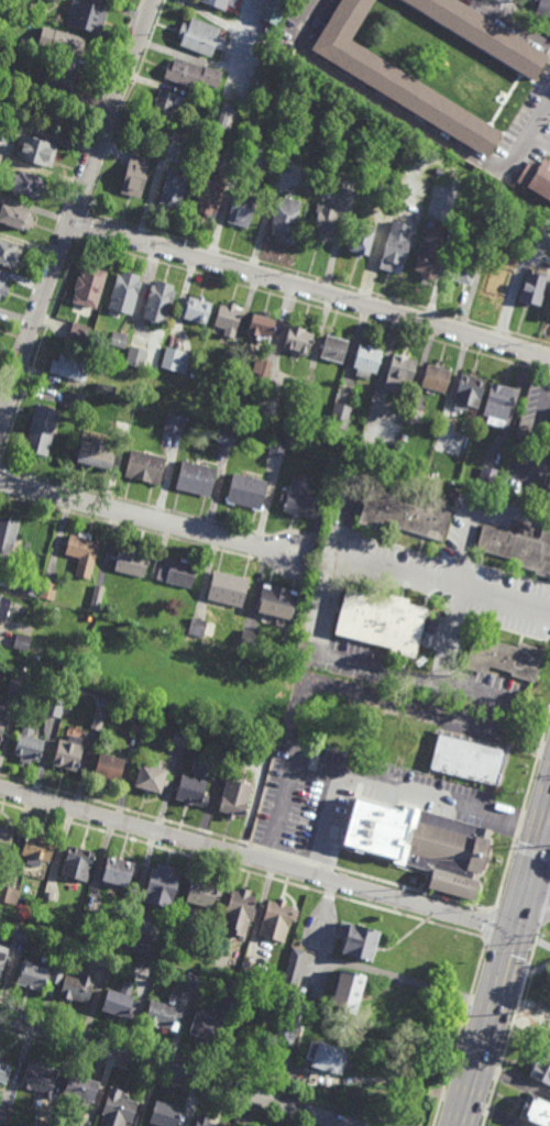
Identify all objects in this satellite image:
building: (54, 0)
building: (218, 3)
building: (30, 7)
building: (541, 8)
building: (43, 12)
building: (271, 12)
road: (501, 12)
building: (85, 18)
road: (504, 27)
building: (483, 35)
building: (198, 37)
building: (26, 43)
building: (66, 43)
road: (117, 67)
building: (193, 74)
building: (59, 76)
building: (395, 79)
building: (167, 100)
building: (204, 100)
park: (46, 106)
road: (546, 111)
building: (224, 112)
road: (404, 113)
road: (46, 120)
road: (546, 121)
building: (36, 148)
building: (533, 161)
building: (245, 162)
building: (136, 172)
building: (278, 172)
building: (439, 172)
building: (536, 178)
building: (25, 181)
building: (174, 186)
building: (208, 192)
building: (242, 207)
road: (75, 210)
building: (15, 214)
building: (285, 217)
building: (324, 222)
building: (484, 229)
building: (363, 238)
building: (397, 246)
building: (9, 252)
building: (430, 252)
road: (46, 261)
building: (464, 264)
building: (493, 277)
building: (89, 285)
building: (2, 286)
building: (532, 288)
road: (310, 289)
building: (124, 291)
building: (159, 301)
building: (197, 308)
building: (228, 318)
building: (263, 323)
building: (78, 332)
building: (118, 339)
building: (298, 340)
building: (334, 347)
building: (135, 356)
building: (176, 360)
building: (369, 360)
building: (69, 367)
building: (262, 367)
building: (399, 374)
building: (436, 377)
building: (105, 388)
building: (307, 389)
building: (469, 391)
building: (75, 400)
building: (498, 404)
building: (269, 406)
building: (395, 413)
building: (411, 416)
road: (1, 417)
building: (340, 417)
building: (174, 423)
building: (41, 430)
building: (227, 435)
building: (404, 438)
building: (278, 448)
building: (97, 451)
building: (145, 466)
building: (487, 476)
building: (196, 478)
building: (547, 484)
building: (246, 490)
building: (302, 499)
building: (405, 516)
road: (145, 517)
road: (348, 527)
building: (7, 540)
building: (519, 547)
building: (82, 552)
building: (132, 562)
road: (462, 567)
road: (311, 568)
building: (175, 572)
building: (29, 587)
building: (229, 588)
building: (47, 590)
building: (97, 598)
road: (333, 598)
building: (278, 601)
building: (4, 609)
building: (382, 621)
building: (198, 627)
building: (25, 629)
building: (209, 632)
building: (250, 639)
building: (22, 642)
building: (504, 659)
building: (18, 687)
building: (54, 707)
building: (98, 721)
building: (2, 722)
road: (546, 726)
building: (140, 727)
building: (180, 739)
building: (29, 747)
road: (539, 750)
building: (69, 755)
building: (466, 758)
building: (111, 770)
building: (151, 776)
road: (367, 781)
road: (530, 784)
building: (194, 785)
building: (235, 795)
road: (326, 825)
road: (518, 825)
building: (4, 838)
building: (419, 840)
road: (246, 842)
building: (37, 847)
road: (531, 852)
road: (255, 859)
building: (77, 860)
building: (119, 868)
road: (242, 870)
road: (504, 875)
traffic signals: (525, 876)
building: (163, 882)
road: (537, 883)
building: (202, 890)
building: (9, 893)
road: (324, 905)
road: (543, 908)
building: (239, 909)
building: (88, 916)
building: (275, 918)
road: (488, 924)
building: (20, 931)
building: (36, 936)
building: (356, 937)
road: (509, 939)
building: (140, 941)
road: (542, 942)
power tower: (539, 947)
building: (2, 953)
building: (106, 957)
road: (503, 959)
building: (291, 971)
building: (36, 973)
building: (248, 974)
building: (191, 979)
road: (404, 980)
building: (77, 985)
building: (346, 987)
building: (233, 991)
building: (120, 1000)
building: (163, 1014)
power tower: (518, 1018)
building: (287, 1023)
building: (206, 1026)
road: (510, 1028)
road: (459, 1030)
building: (324, 1056)
building: (541, 1068)
road: (172, 1069)
building: (3, 1071)
building: (40, 1077)
road: (513, 1079)
building: (81, 1085)
building: (118, 1107)
building: (535, 1110)
building: (166, 1113)
road: (493, 1113)
building: (3, 1114)
building: (206, 1121)
building: (42, 1122)

